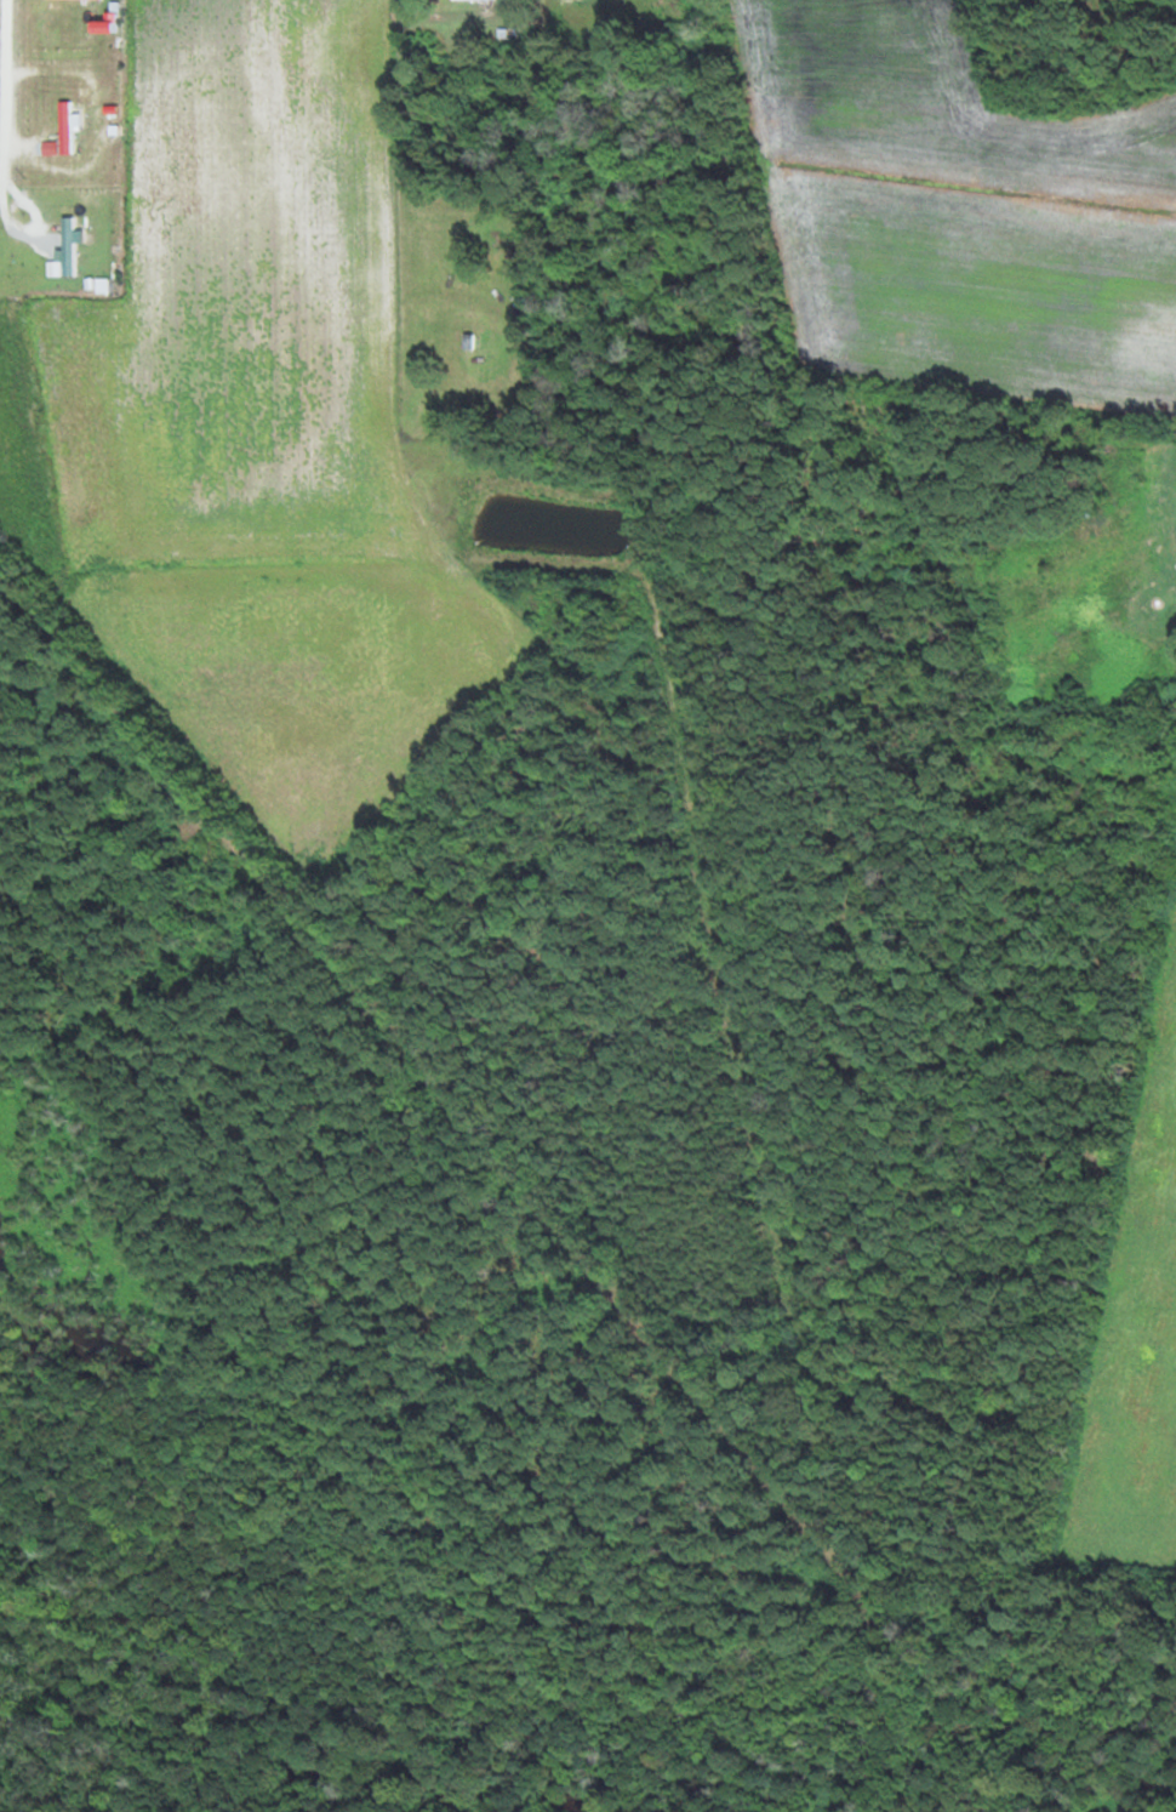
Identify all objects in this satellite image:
road: (403, 155)

